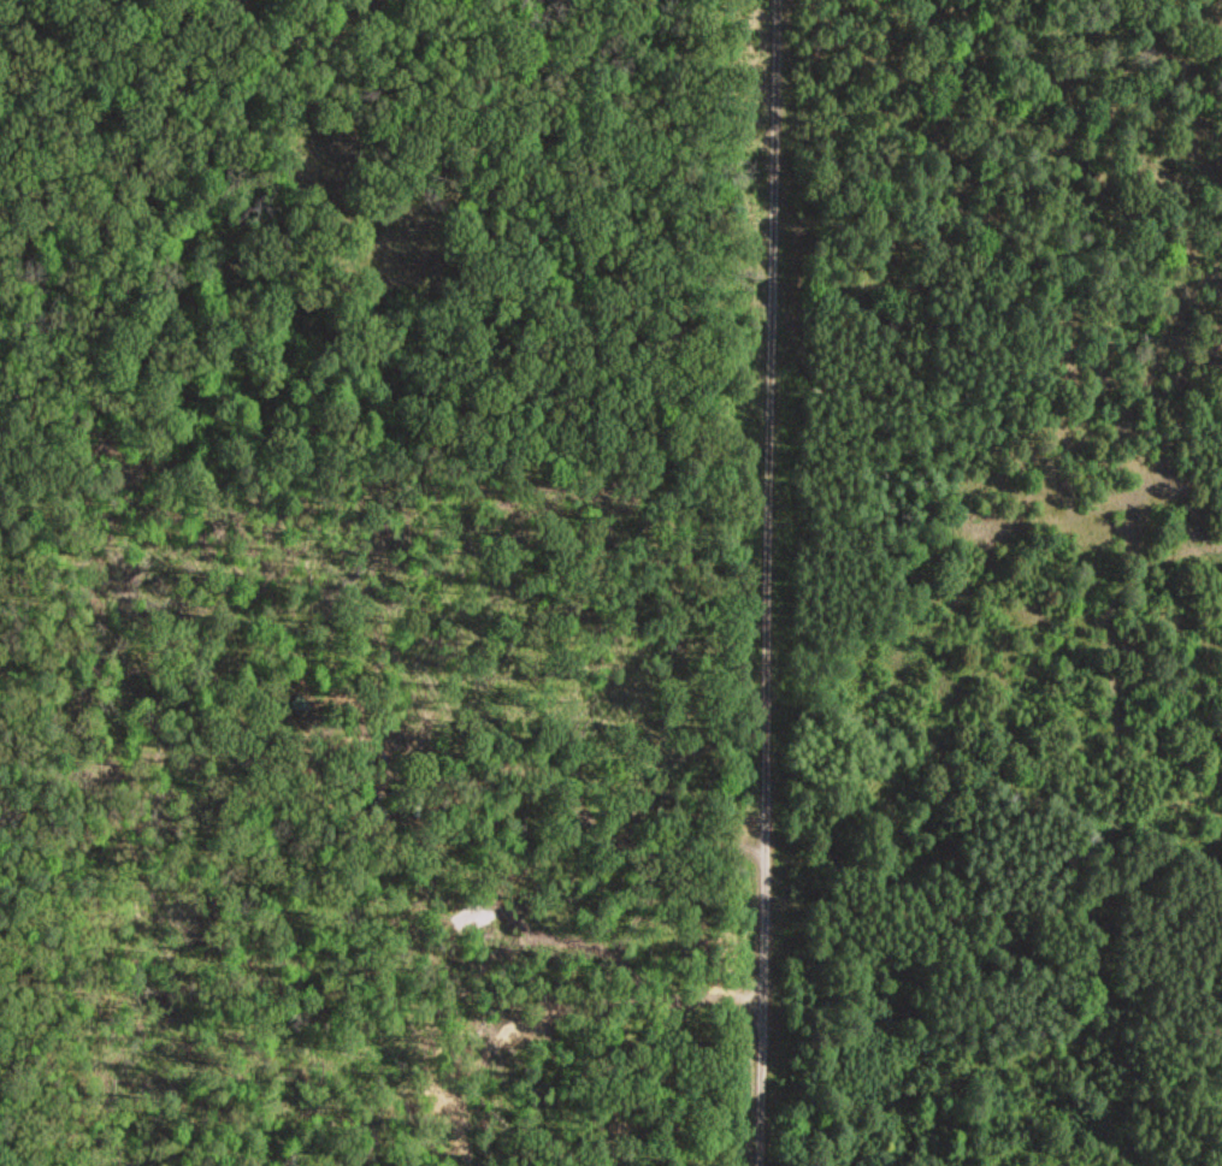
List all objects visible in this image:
road: (768, 582)

